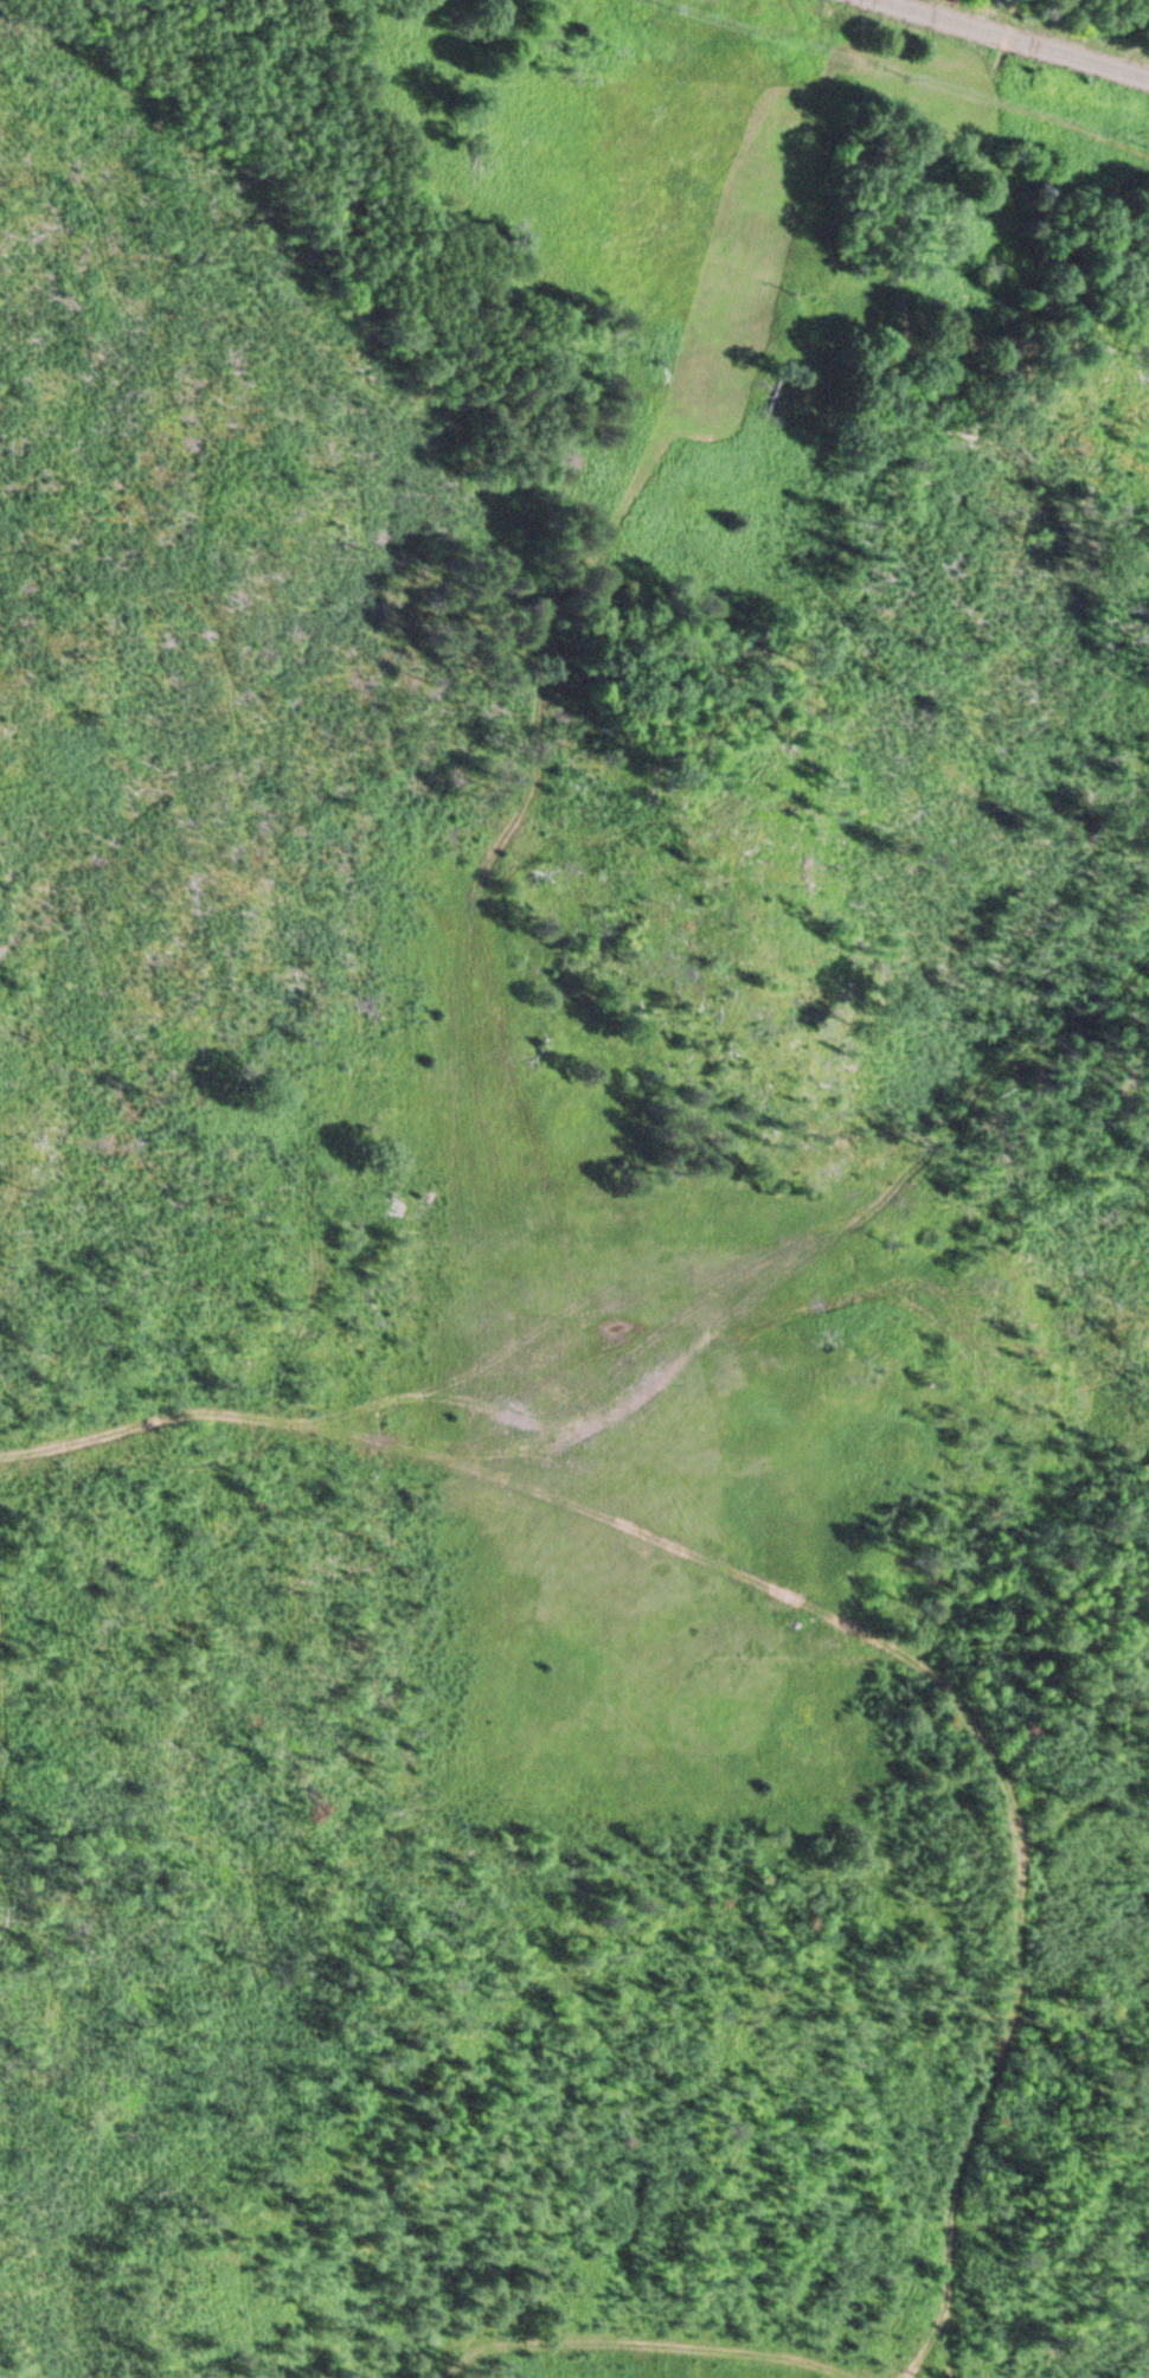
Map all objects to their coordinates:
railway: (1014, 38)

